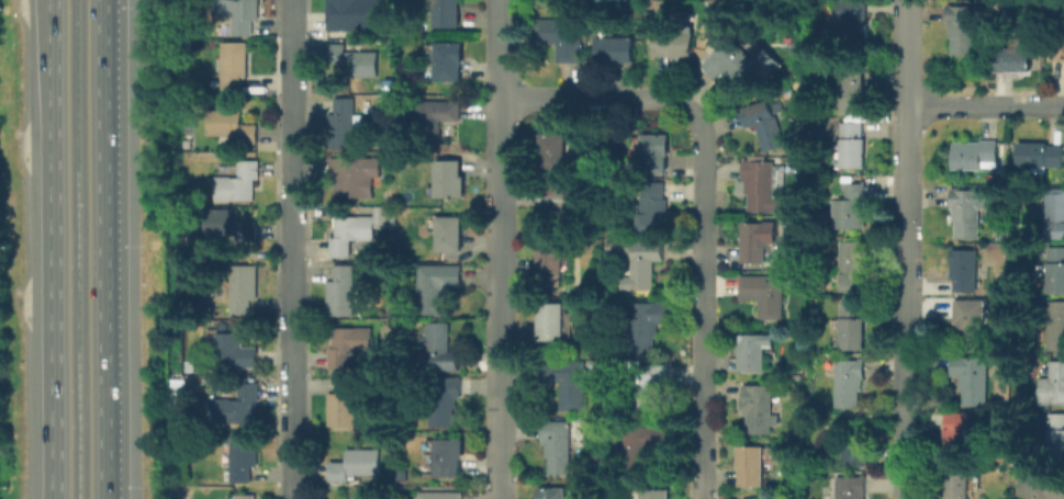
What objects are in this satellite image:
building: (448, 13)
building: (354, 15)
building: (245, 16)
building: (850, 23)
building: (965, 27)
building: (564, 37)
building: (677, 43)
building: (618, 49)
building: (1060, 50)
building: (1017, 56)
building: (356, 59)
building: (447, 60)
building: (744, 64)
building: (234, 65)
building: (391, 86)
building: (855, 90)
road: (987, 105)
building: (435, 120)
building: (343, 124)
building: (765, 125)
building: (233, 126)
building: (852, 146)
building: (656, 152)
building: (555, 155)
building: (977, 155)
building: (1042, 155)
building: (357, 177)
building: (450, 180)
building: (240, 182)
building: (765, 186)
building: (192, 200)
building: (565, 204)
building: (798, 205)
road: (701, 206)
building: (855, 206)
building: (656, 208)
building: (970, 211)
building: (392, 212)
building: (1056, 214)
building: (229, 224)
building: (352, 233)
building: (452, 234)
building: (1005, 234)
building: (760, 241)
building: (615, 247)
road: (53, 249)
road: (100, 249)
road: (289, 249)
road: (497, 249)
road: (908, 249)
building: (552, 262)
building: (646, 265)
building: (854, 266)
building: (966, 270)
building: (1056, 270)
building: (437, 285)
building: (245, 290)
building: (344, 291)
building: (765, 294)
building: (553, 322)
building: (648, 326)
building: (973, 326)
building: (1057, 326)
building: (851, 328)
building: (351, 344)
building: (439, 348)
building: (236, 352)
building: (758, 352)
building: (193, 366)
building: (799, 376)
building: (974, 378)
building: (569, 381)
building: (851, 382)
building: (652, 385)
building: (1055, 385)
building: (445, 400)
building: (345, 404)
building: (240, 406)
building: (761, 409)
building: (963, 435)
building: (393, 436)
building: (1057, 436)
building: (559, 445)
building: (645, 446)
building: (856, 449)
building: (449, 456)
building: (245, 457)
building: (1015, 460)
building: (358, 465)
building: (754, 466)
building: (403, 476)
building: (964, 486)
building: (853, 488)
building: (1044, 488)
building: (555, 492)
building: (654, 495)
building: (441, 496)
building: (245, 497)
building: (746, 498)

